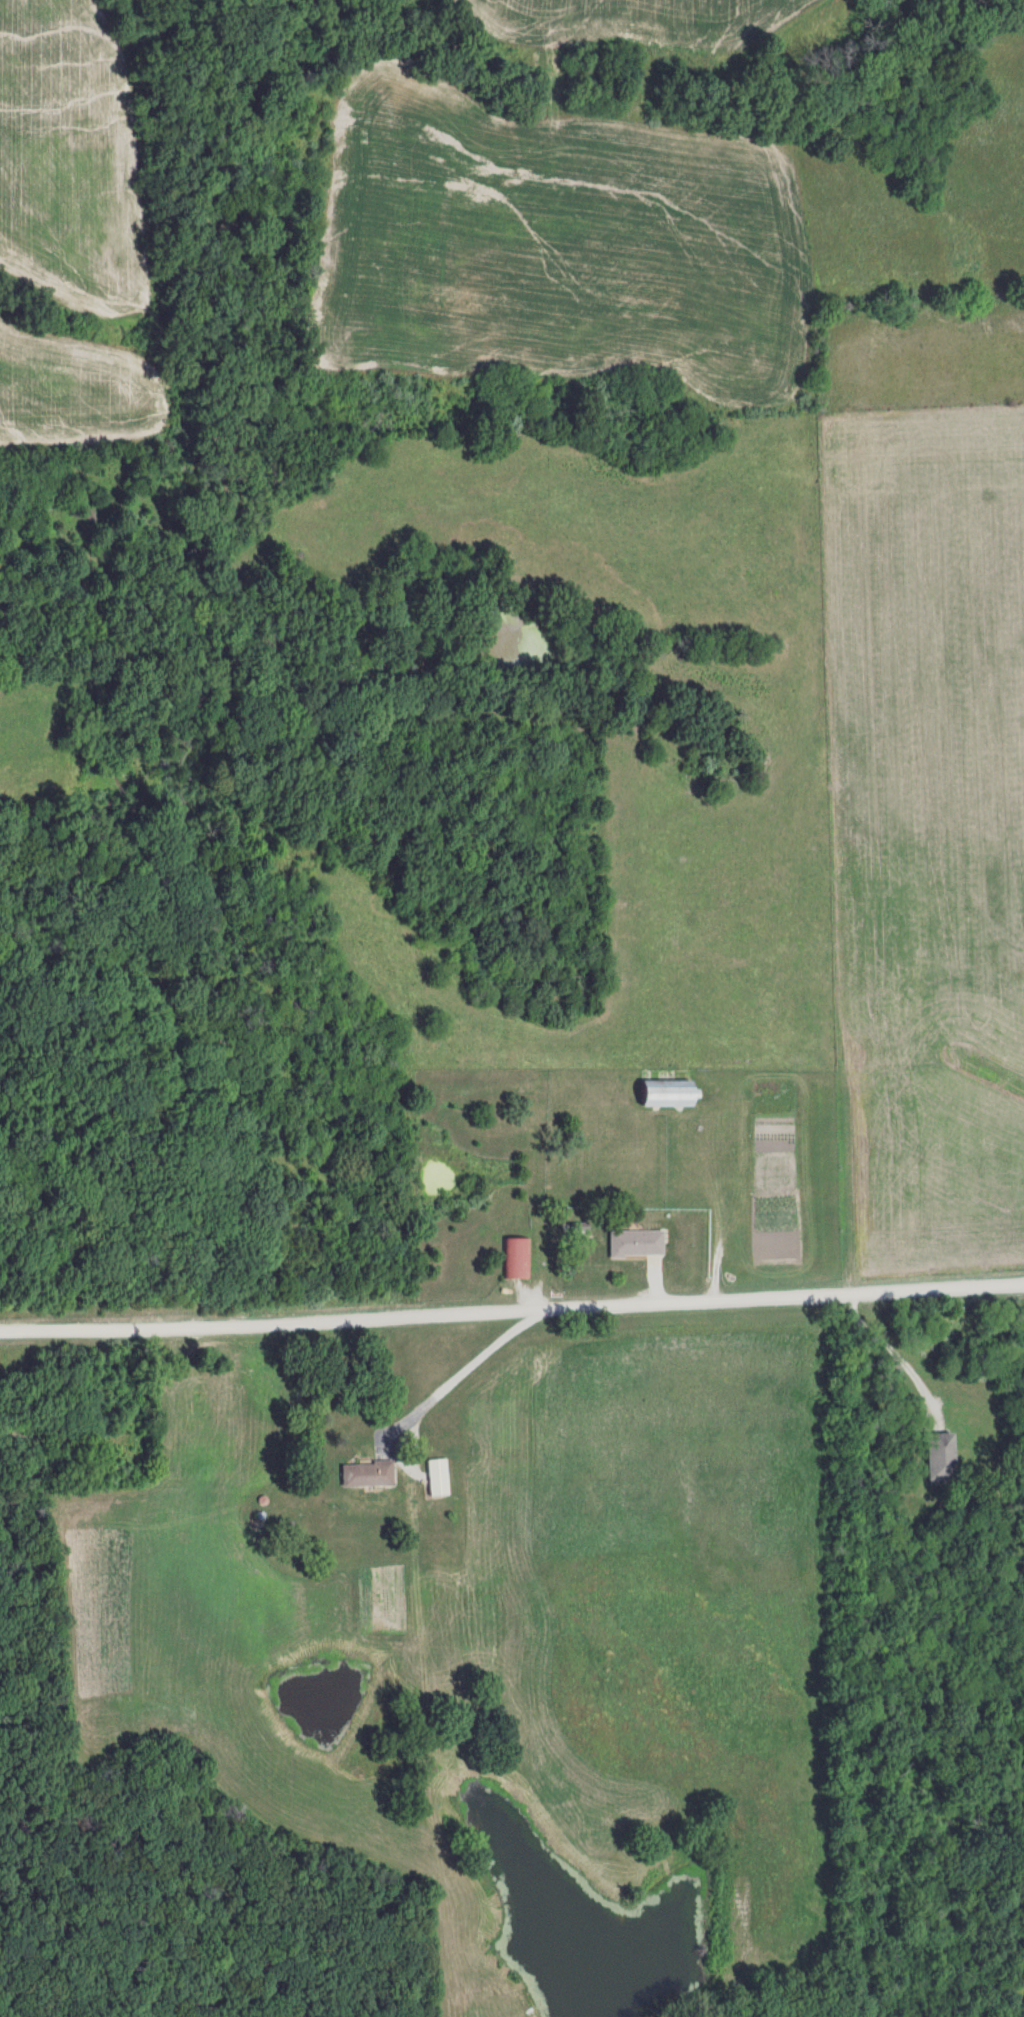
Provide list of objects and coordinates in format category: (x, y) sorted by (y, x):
building: (671, 1093)
building: (637, 1243)
building: (515, 1258)
road: (512, 1311)
building: (942, 1459)
building: (368, 1475)
building: (439, 1477)

